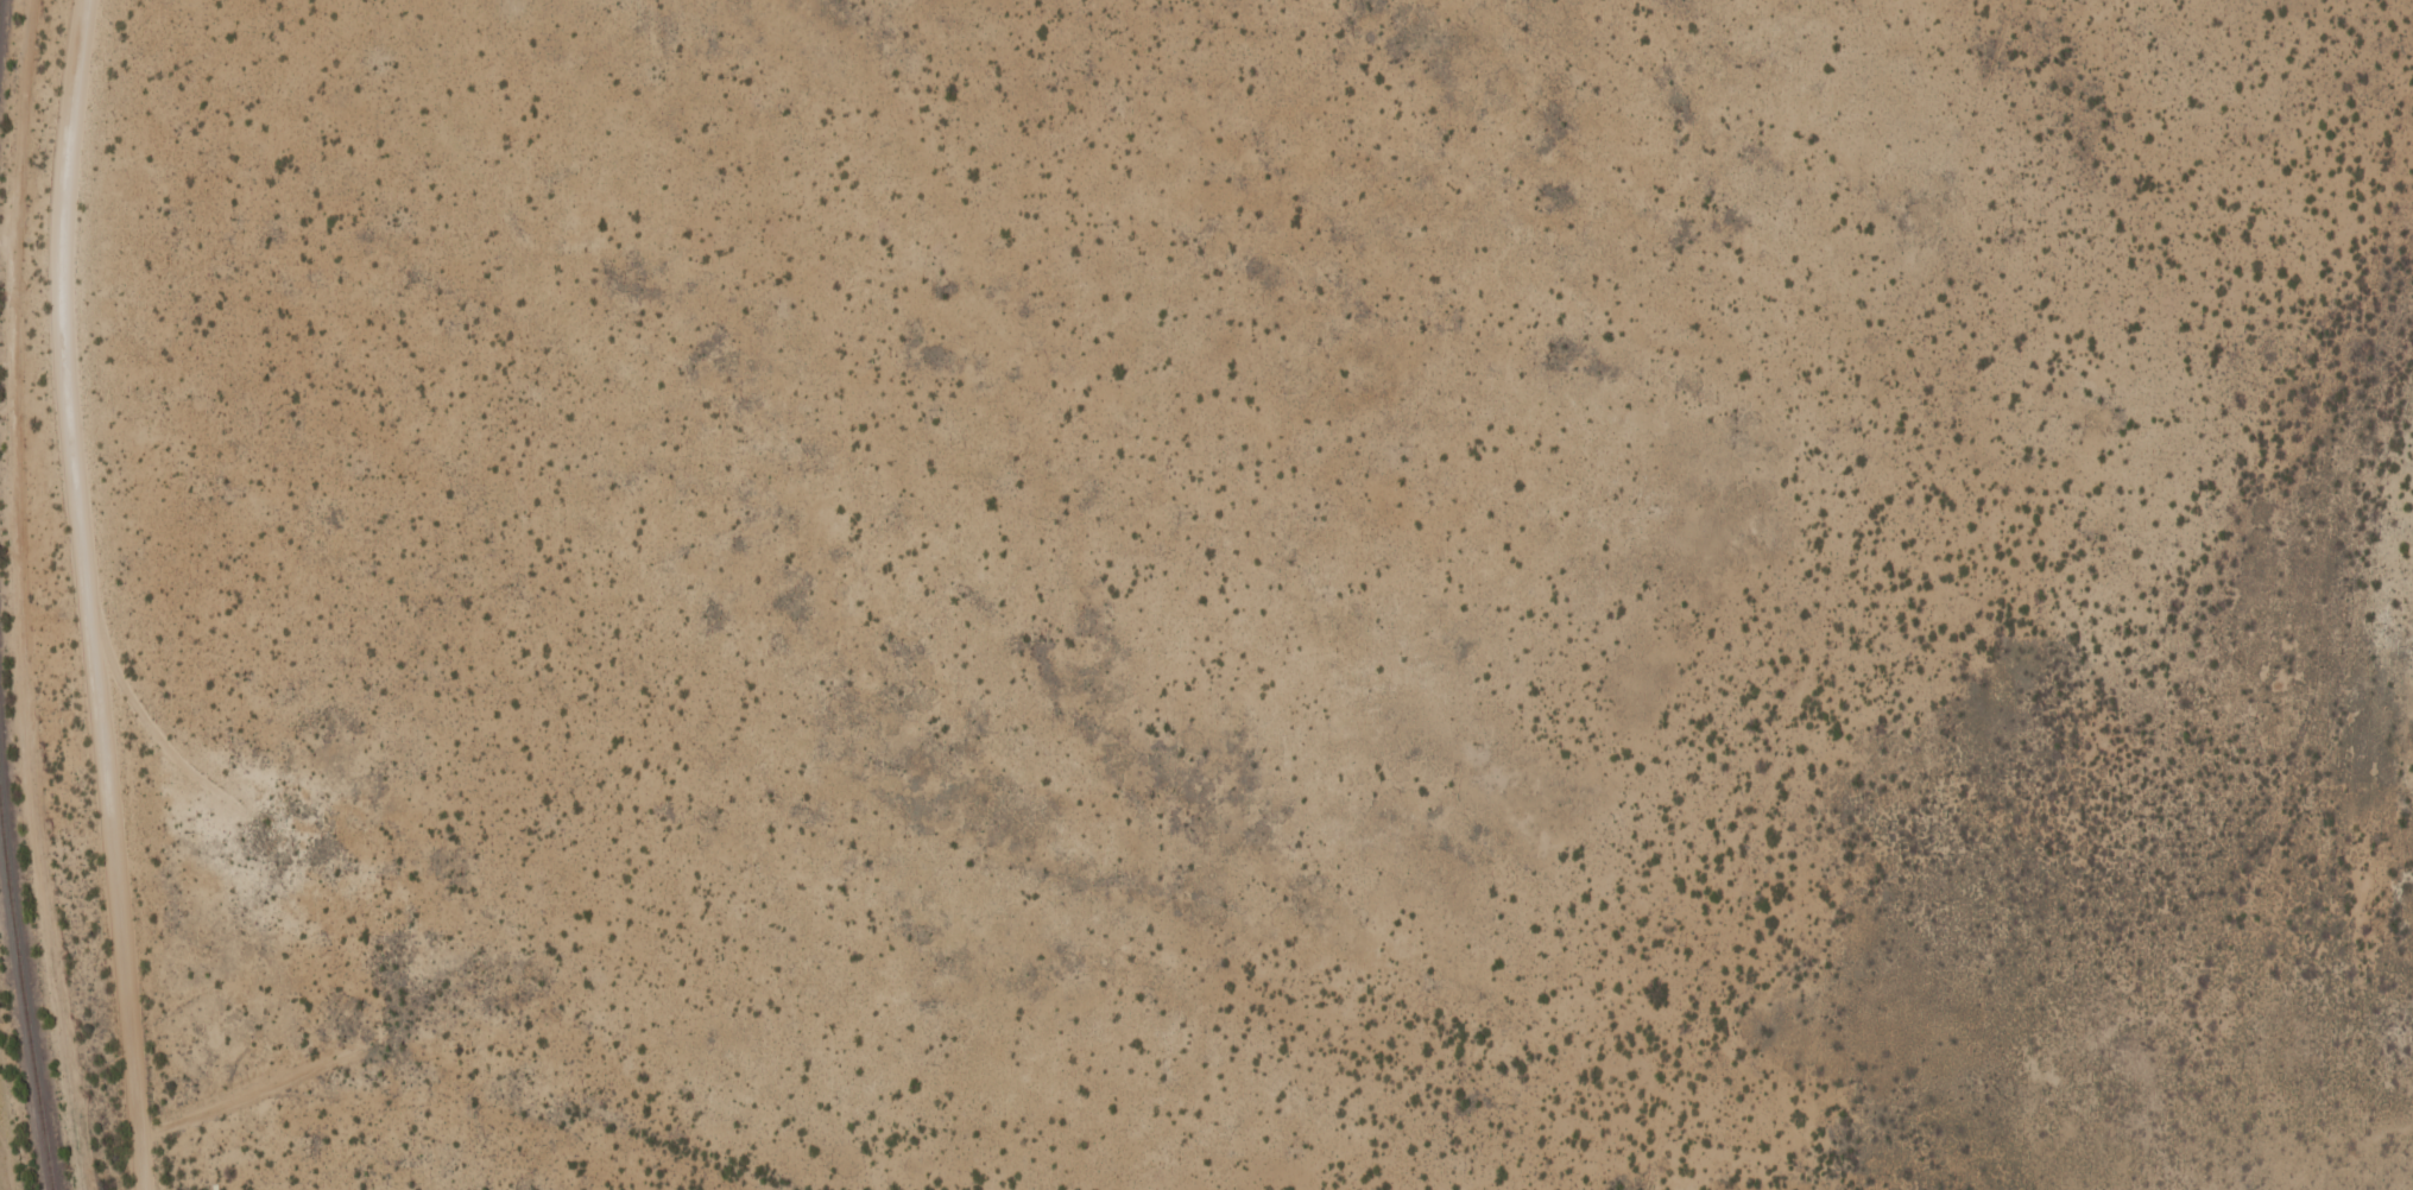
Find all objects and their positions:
railway: (0, 5)
road: (87, 594)
railway: (24, 989)

